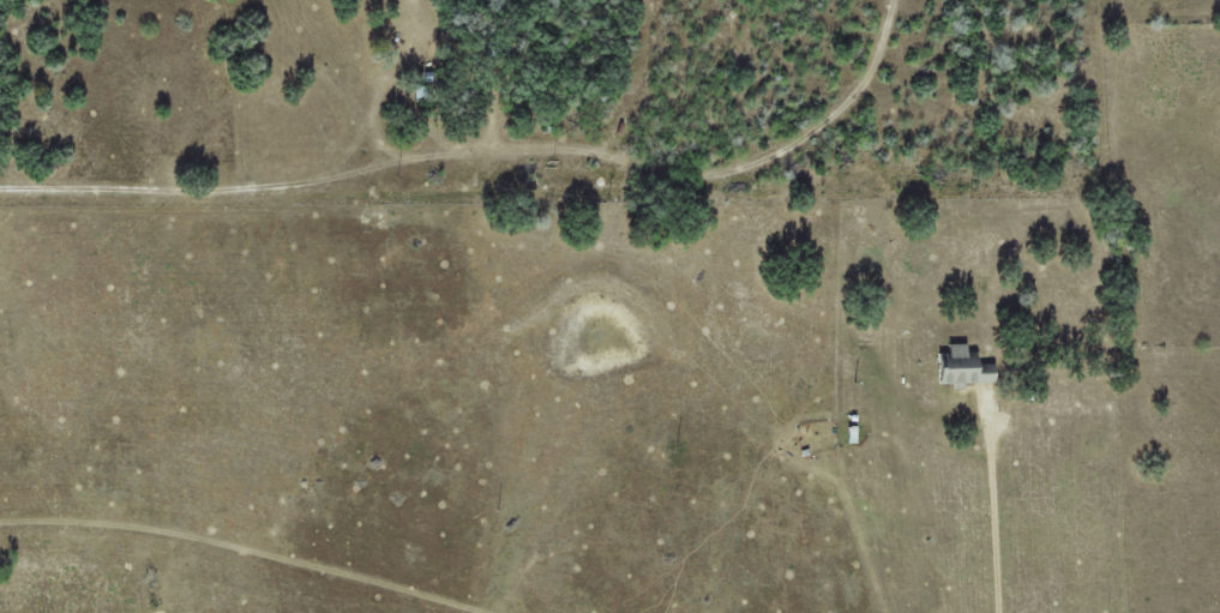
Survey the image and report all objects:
building: (421, 91)

